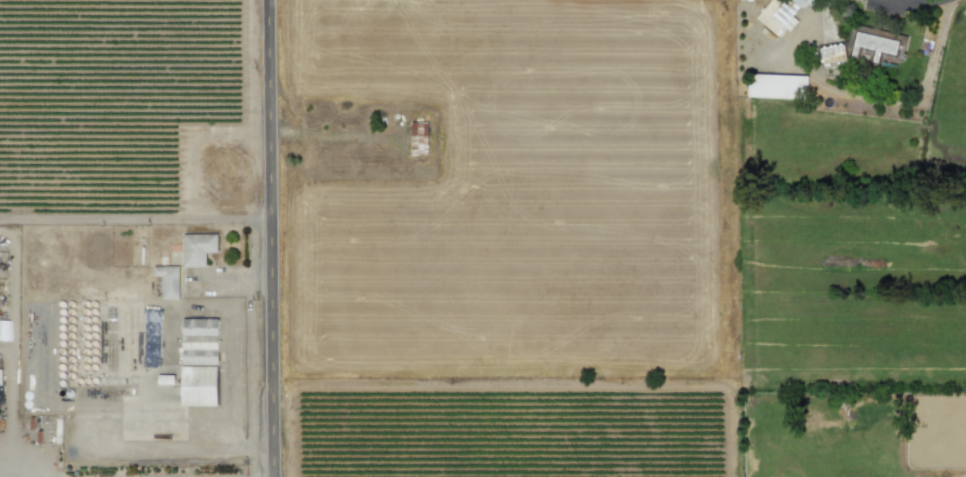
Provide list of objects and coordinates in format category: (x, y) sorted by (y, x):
building: (778, 15)
building: (873, 45)
building: (832, 54)
building: (777, 86)
road: (920, 99)
building: (418, 138)
road: (136, 217)
road: (272, 238)
building: (197, 248)
building: (167, 281)
road: (14, 362)
building: (199, 362)
road: (202, 440)
road: (24, 472)

